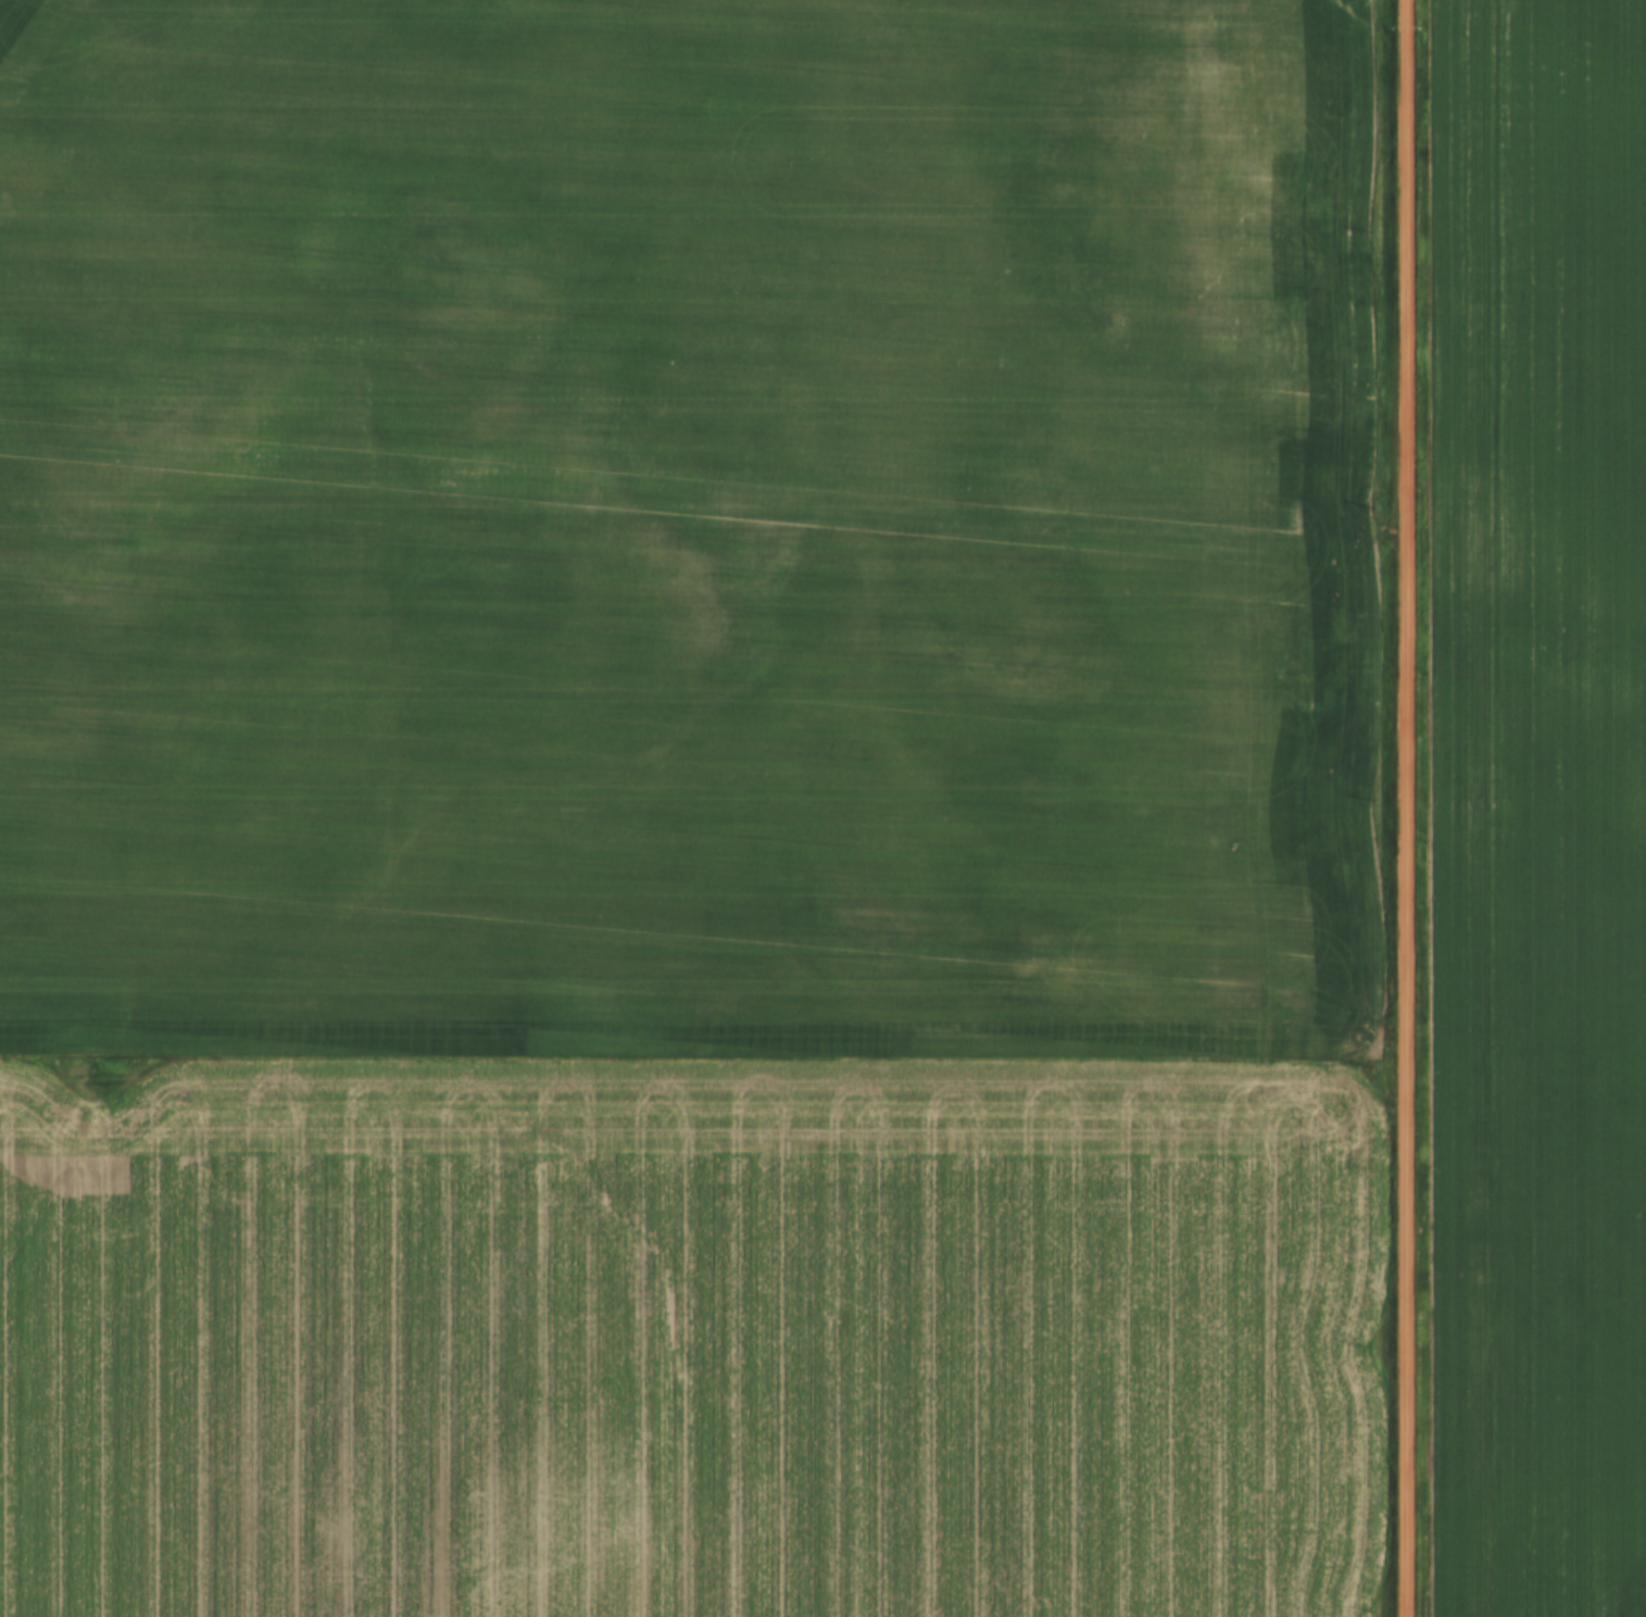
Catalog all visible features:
road: (1402, 807)

